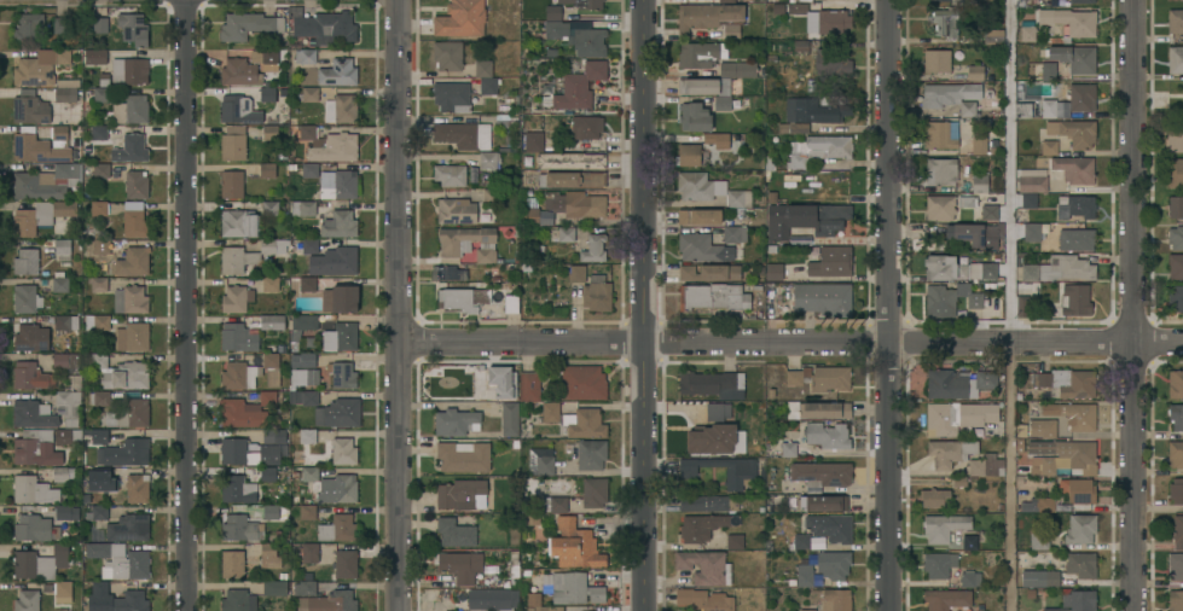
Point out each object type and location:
building: (940, 0)
building: (726, 1)
building: (805, 1)
building: (1081, 1)
building: (584, 2)
building: (800, 8)
building: (552, 12)
building: (707, 16)
building: (460, 18)
building: (833, 21)
building: (1175, 21)
building: (945, 22)
building: (1069, 23)
building: (59, 24)
building: (100, 25)
building: (249, 25)
building: (29, 28)
building: (133, 28)
building: (325, 28)
building: (731, 31)
building: (1028, 33)
building: (993, 36)
building: (579, 37)
building: (801, 46)
building: (779, 48)
building: (447, 54)
building: (697, 54)
building: (94, 56)
building: (305, 56)
building: (1074, 58)
building: (271, 59)
building: (1176, 59)
building: (936, 60)
building: (831, 62)
building: (40, 66)
building: (483, 69)
building: (738, 69)
building: (1049, 70)
building: (129, 71)
building: (239, 72)
building: (337, 72)
building: (974, 72)
building: (488, 86)
building: (579, 86)
building: (704, 86)
building: (949, 93)
building: (65, 94)
building: (100, 94)
building: (267, 94)
building: (309, 94)
building: (451, 97)
building: (1071, 98)
building: (721, 103)
building: (344, 107)
building: (238, 109)
building: (967, 109)
building: (30, 110)
building: (129, 110)
building: (1022, 110)
building: (808, 114)
building: (694, 117)
building: (505, 121)
building: (586, 127)
building: (269, 130)
building: (98, 132)
building: (1078, 133)
building: (464, 134)
building: (59, 135)
building: (938, 135)
building: (1173, 138)
building: (530, 141)
building: (233, 142)
building: (984, 144)
building: (329, 145)
building: (707, 147)
building: (1049, 147)
building: (37, 149)
building: (129, 149)
building: (817, 149)
building: (488, 159)
building: (569, 161)
building: (267, 169)
building: (1074, 169)
building: (100, 170)
building: (941, 170)
building: (1175, 171)
building: (450, 175)
building: (572, 179)
building: (46, 182)
building: (1033, 182)
building: (135, 184)
building: (232, 184)
building: (979, 184)
building: (698, 186)
building: (325, 187)
building: (491, 196)
building: (740, 198)
building: (967, 200)
building: (1030, 200)
building: (939, 206)
building: (1075, 206)
building: (1175, 206)
building: (98, 208)
building: (269, 208)
building: (566, 208)
building: (456, 211)
building: (988, 213)
building: (41, 216)
building: (700, 217)
building: (805, 219)
building: (134, 220)
building: (239, 223)
building: (338, 223)
building: (1032, 232)
building: (975, 233)
building: (566, 234)
building: (735, 234)
building: (1175, 237)
building: (463, 239)
building: (1075, 239)
building: (702, 248)
building: (63, 249)
building: (593, 249)
building: (100, 250)
building: (249, 255)
building: (485, 255)
building: (327, 257)
building: (27, 261)
building: (133, 261)
building: (831, 261)
building: (1176, 266)
building: (956, 268)
building: (1059, 268)
building: (709, 272)
building: (775, 272)
building: (448, 273)
building: (576, 273)
building: (59, 283)
building: (98, 284)
building: (271, 284)
building: (307, 284)
building: (597, 296)
building: (713, 296)
building: (970, 296)
building: (25, 298)
building: (236, 298)
building: (344, 298)
building: (823, 298)
building: (1175, 298)
building: (131, 299)
building: (457, 299)
building: (1074, 299)
building: (940, 301)
building: (511, 303)
road: (399, 304)
road: (885, 304)
road: (1130, 304)
road: (192, 305)
road: (648, 305)
road: (1009, 305)
building: (1021, 305)
building: (81, 321)
building: (271, 321)
building: (305, 321)
building: (234, 336)
building: (28, 337)
building: (132, 337)
building: (341, 337)
road: (790, 341)
building: (66, 360)
building: (271, 368)
building: (303, 369)
building: (121, 372)
building: (342, 374)
building: (31, 376)
building: (239, 376)
building: (820, 378)
building: (986, 379)
building: (75, 380)
building: (503, 380)
building: (582, 382)
building: (708, 382)
building: (949, 382)
building: (1065, 383)
building: (1176, 384)
building: (529, 386)
building: (99, 397)
building: (303, 397)
building: (69, 406)
building: (817, 409)
building: (247, 411)
building: (717, 411)
building: (342, 412)
building: (551, 412)
building: (33, 413)
building: (133, 413)
building: (1074, 414)
building: (957, 415)
building: (1176, 417)
building: (510, 419)
building: (456, 421)
building: (585, 423)
building: (1043, 427)
building: (99, 436)
building: (307, 436)
building: (828, 436)
building: (66, 437)
building: (715, 438)
building: (35, 448)
building: (789, 448)
building: (255, 449)
building: (343, 450)
building: (950, 452)
building: (1067, 452)
building: (124, 453)
building: (591, 454)
building: (1176, 454)
building: (463, 455)
building: (545, 465)
building: (986, 465)
building: (1048, 465)
building: (269, 472)
building: (741, 472)
building: (63, 473)
building: (822, 473)
building: (104, 478)
building: (331, 485)
building: (137, 488)
building: (237, 489)
building: (33, 490)
building: (1080, 490)
building: (1176, 490)
building: (593, 491)
building: (462, 494)
building: (934, 496)
building: (820, 502)
building: (552, 504)
building: (707, 504)
building: (1046, 504)
building: (66, 512)
building: (97, 512)
building: (274, 512)
building: (307, 512)
building: (129, 526)
building: (701, 526)
building: (830, 526)
building: (944, 526)
building: (34, 528)
building: (239, 528)
building: (337, 528)
building: (1080, 529)
building: (1178, 531)
building: (456, 533)
building: (1039, 539)
building: (735, 541)
building: (800, 541)
building: (969, 542)
building: (575, 545)
building: (308, 552)
building: (269, 555)
building: (1043, 559)
building: (120, 560)
building: (41, 561)
building: (232, 564)
building: (346, 564)
building: (834, 564)
building: (939, 564)
building: (459, 565)
building: (1081, 565)
building: (704, 566)
building: (1176, 566)
building: (802, 575)
building: (1039, 577)
building: (970, 578)
building: (99, 588)
building: (274, 588)
building: (305, 588)
building: (570, 588)
building: (63, 592)
building: (492, 599)
building: (835, 599)
building: (946, 599)
building: (27, 600)
building: (238, 600)
building: (703, 600)
building: (1176, 600)
building: (131, 601)
building: (329, 601)
building: (1075, 601)
building: (551, 609)
building: (602, 610)
building: (808, 610)

